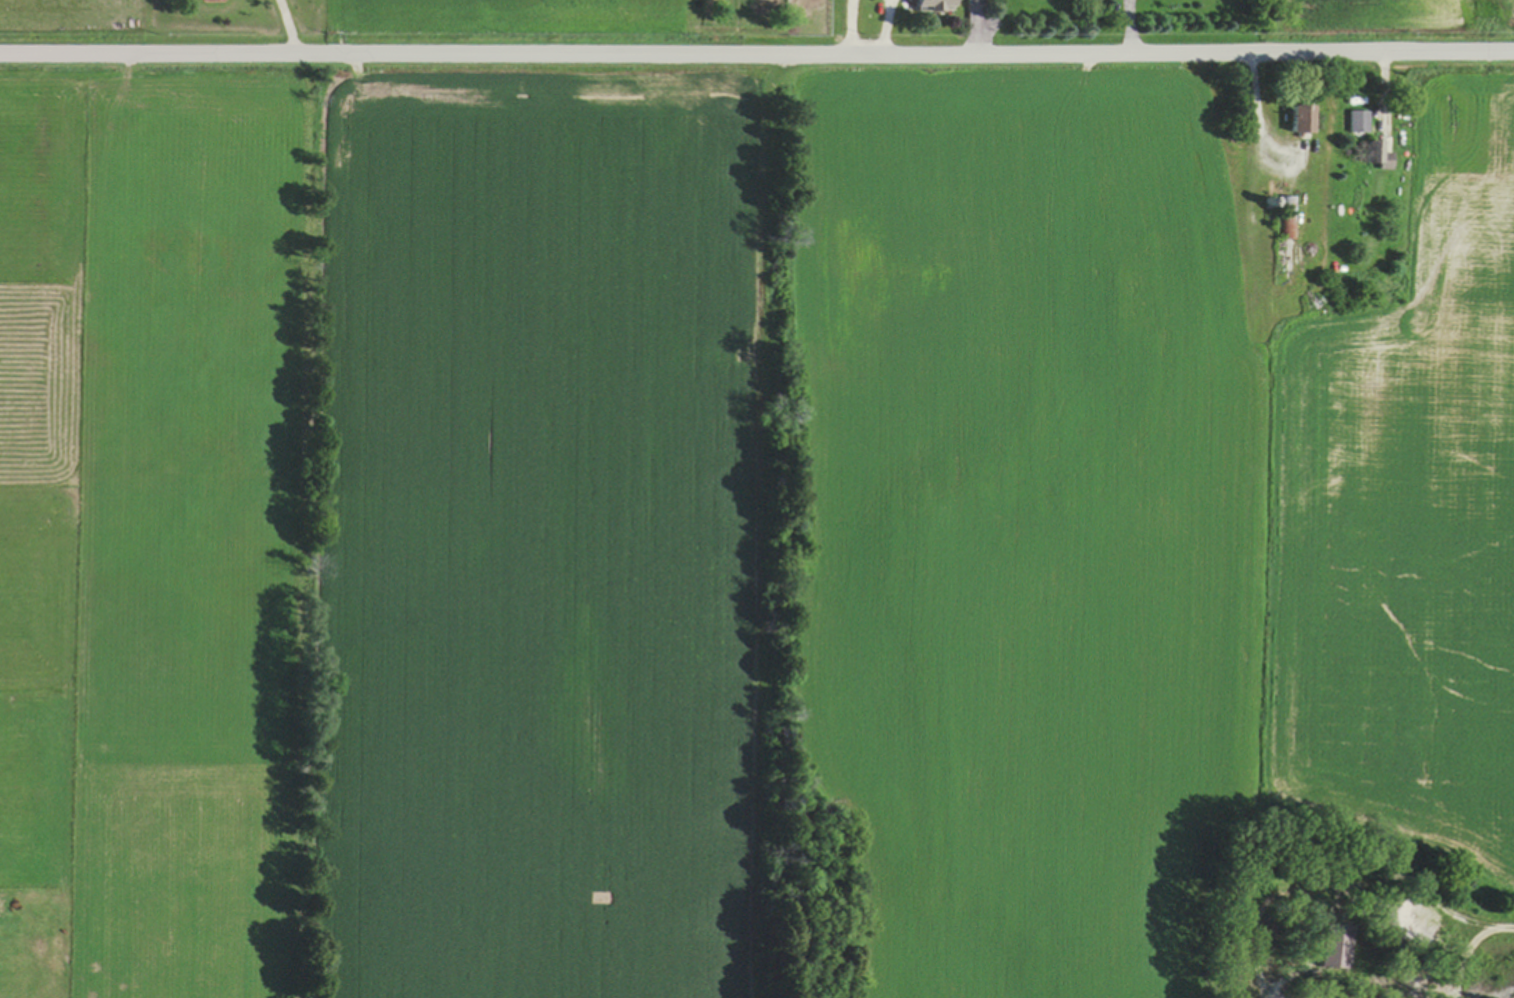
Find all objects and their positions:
building: (931, 6)
road: (851, 26)
road: (887, 26)
road: (1133, 26)
road: (289, 27)
road: (980, 32)
road: (757, 53)
road: (1386, 89)
road: (1260, 103)
building: (1302, 121)
building: (1361, 122)
building: (1378, 157)
building: (1289, 219)
building: (1337, 946)

